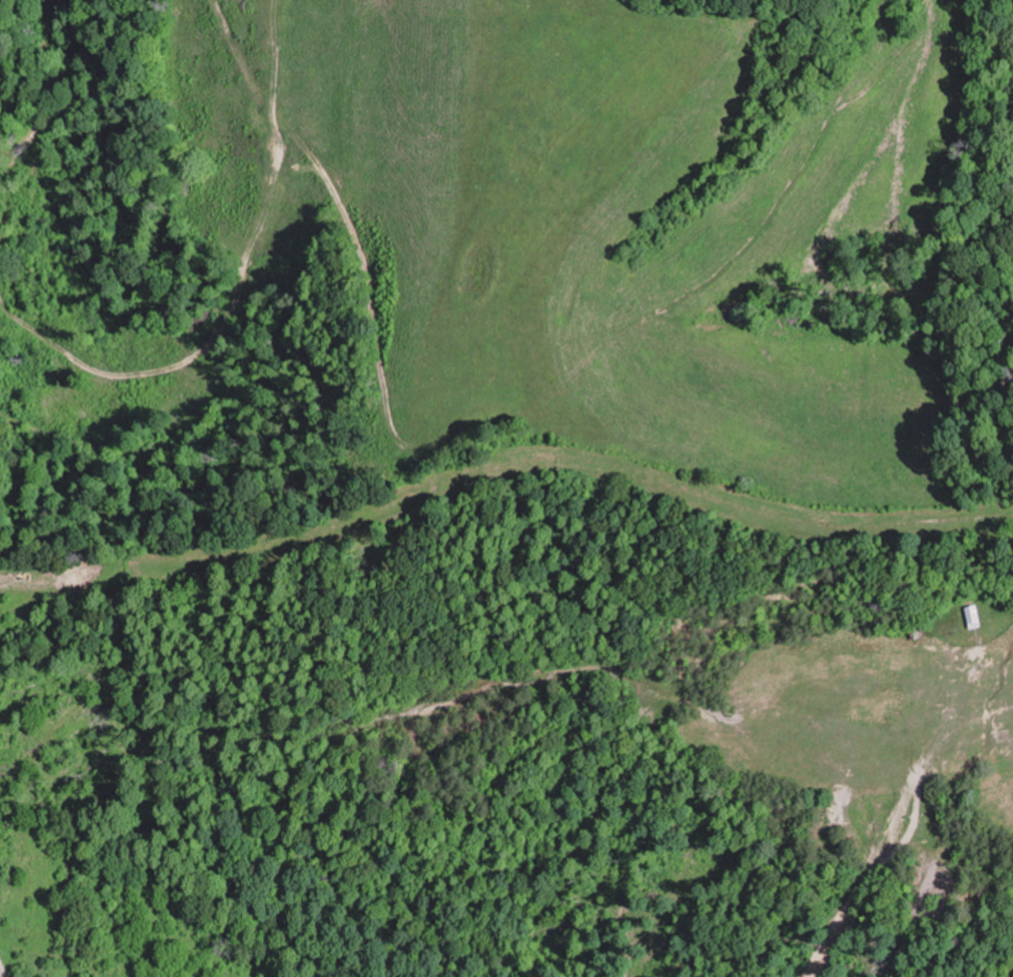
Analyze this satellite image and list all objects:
building: (972, 616)
road: (163, 726)
road: (36, 913)

